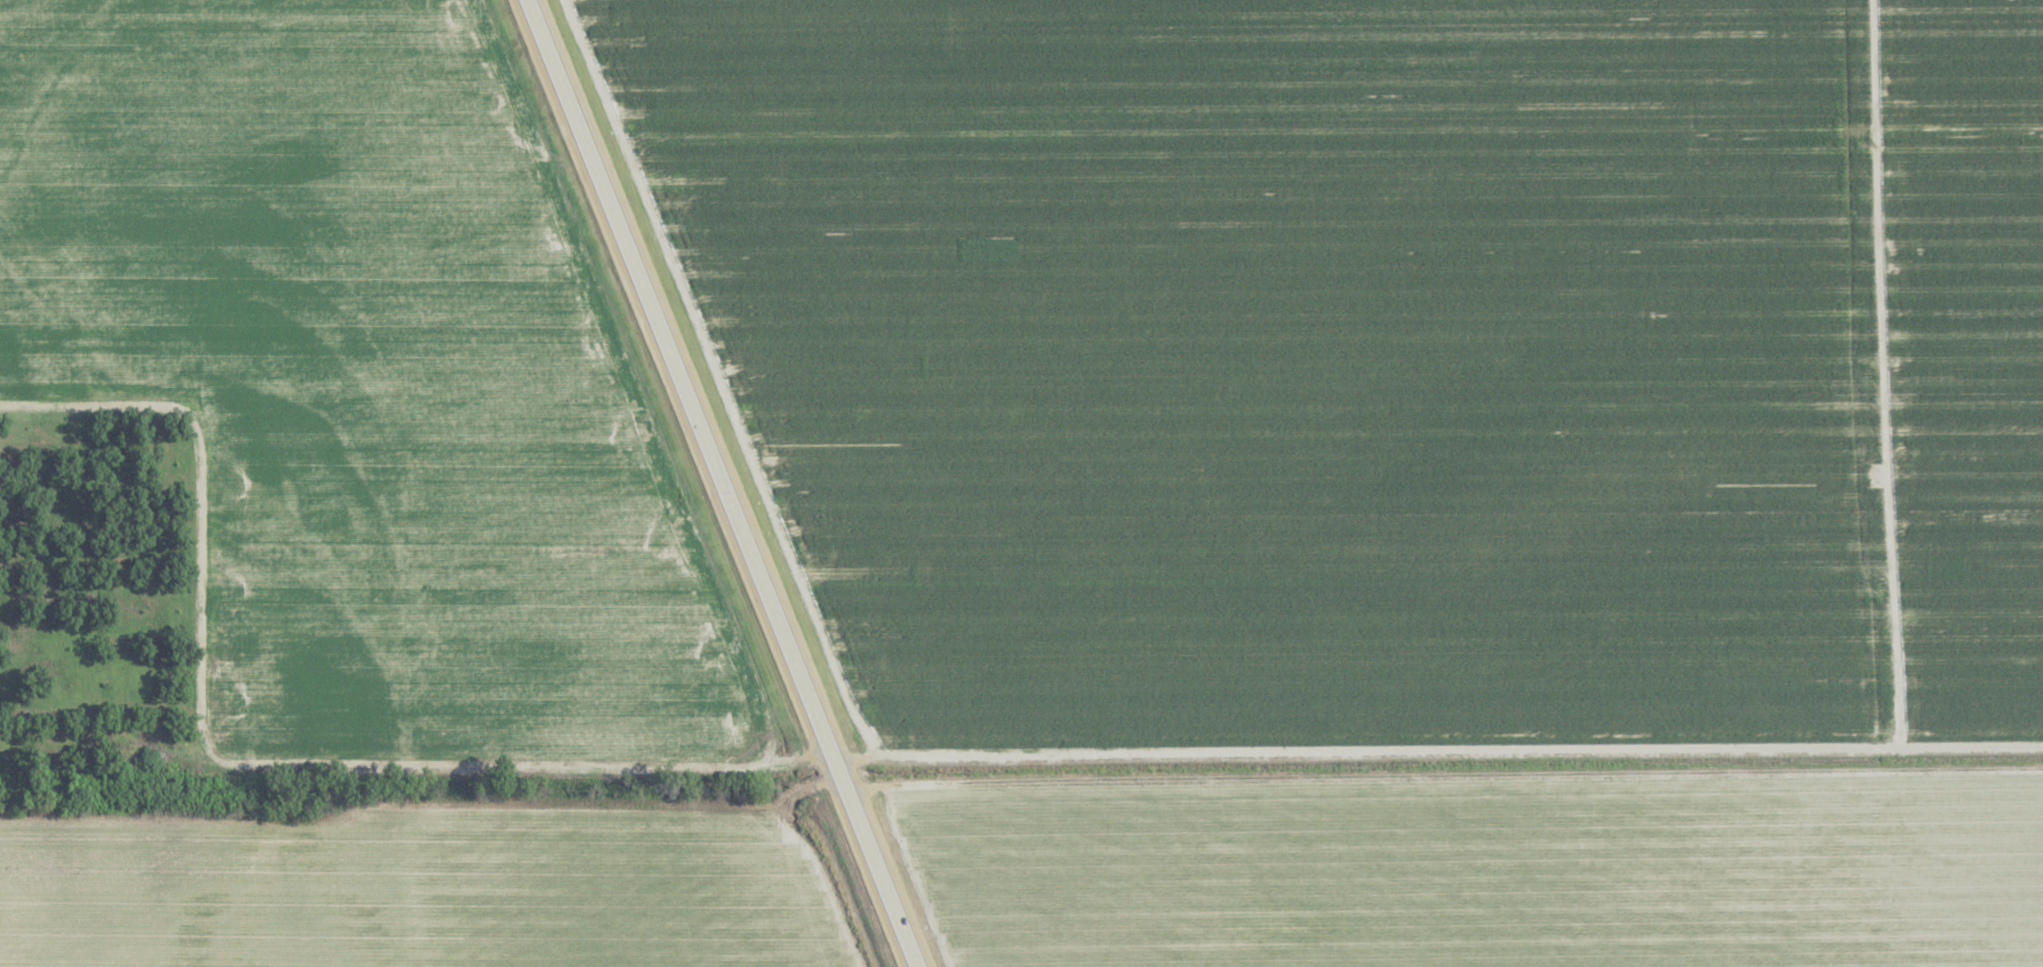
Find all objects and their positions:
road: (720, 483)

